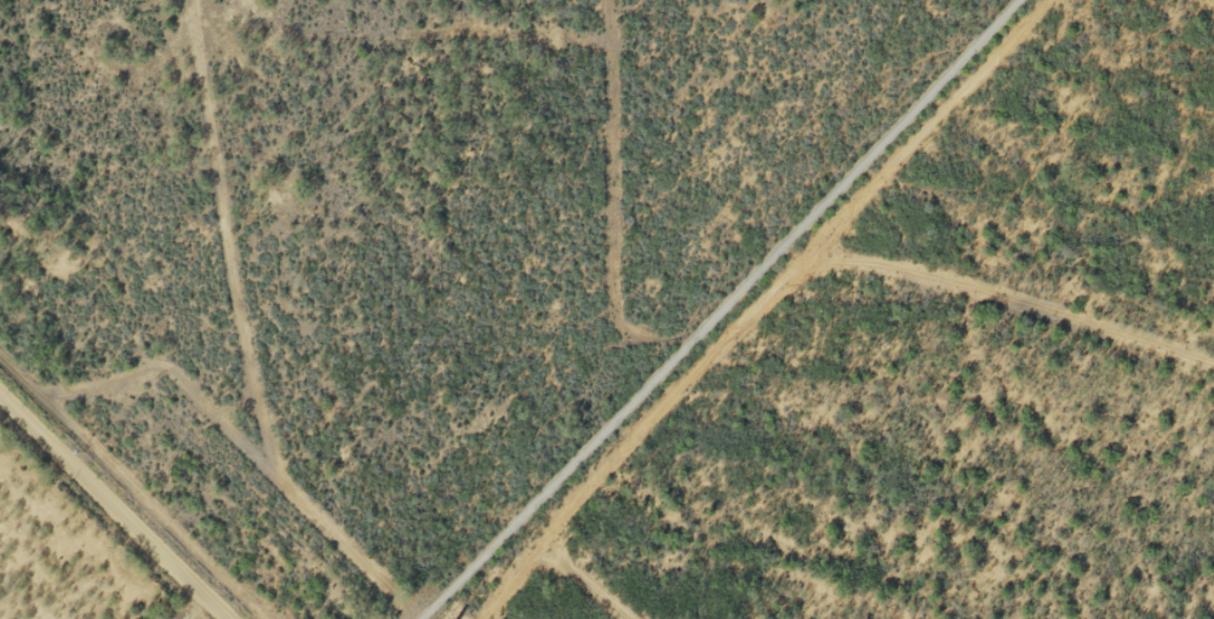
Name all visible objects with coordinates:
road: (130, 492)

